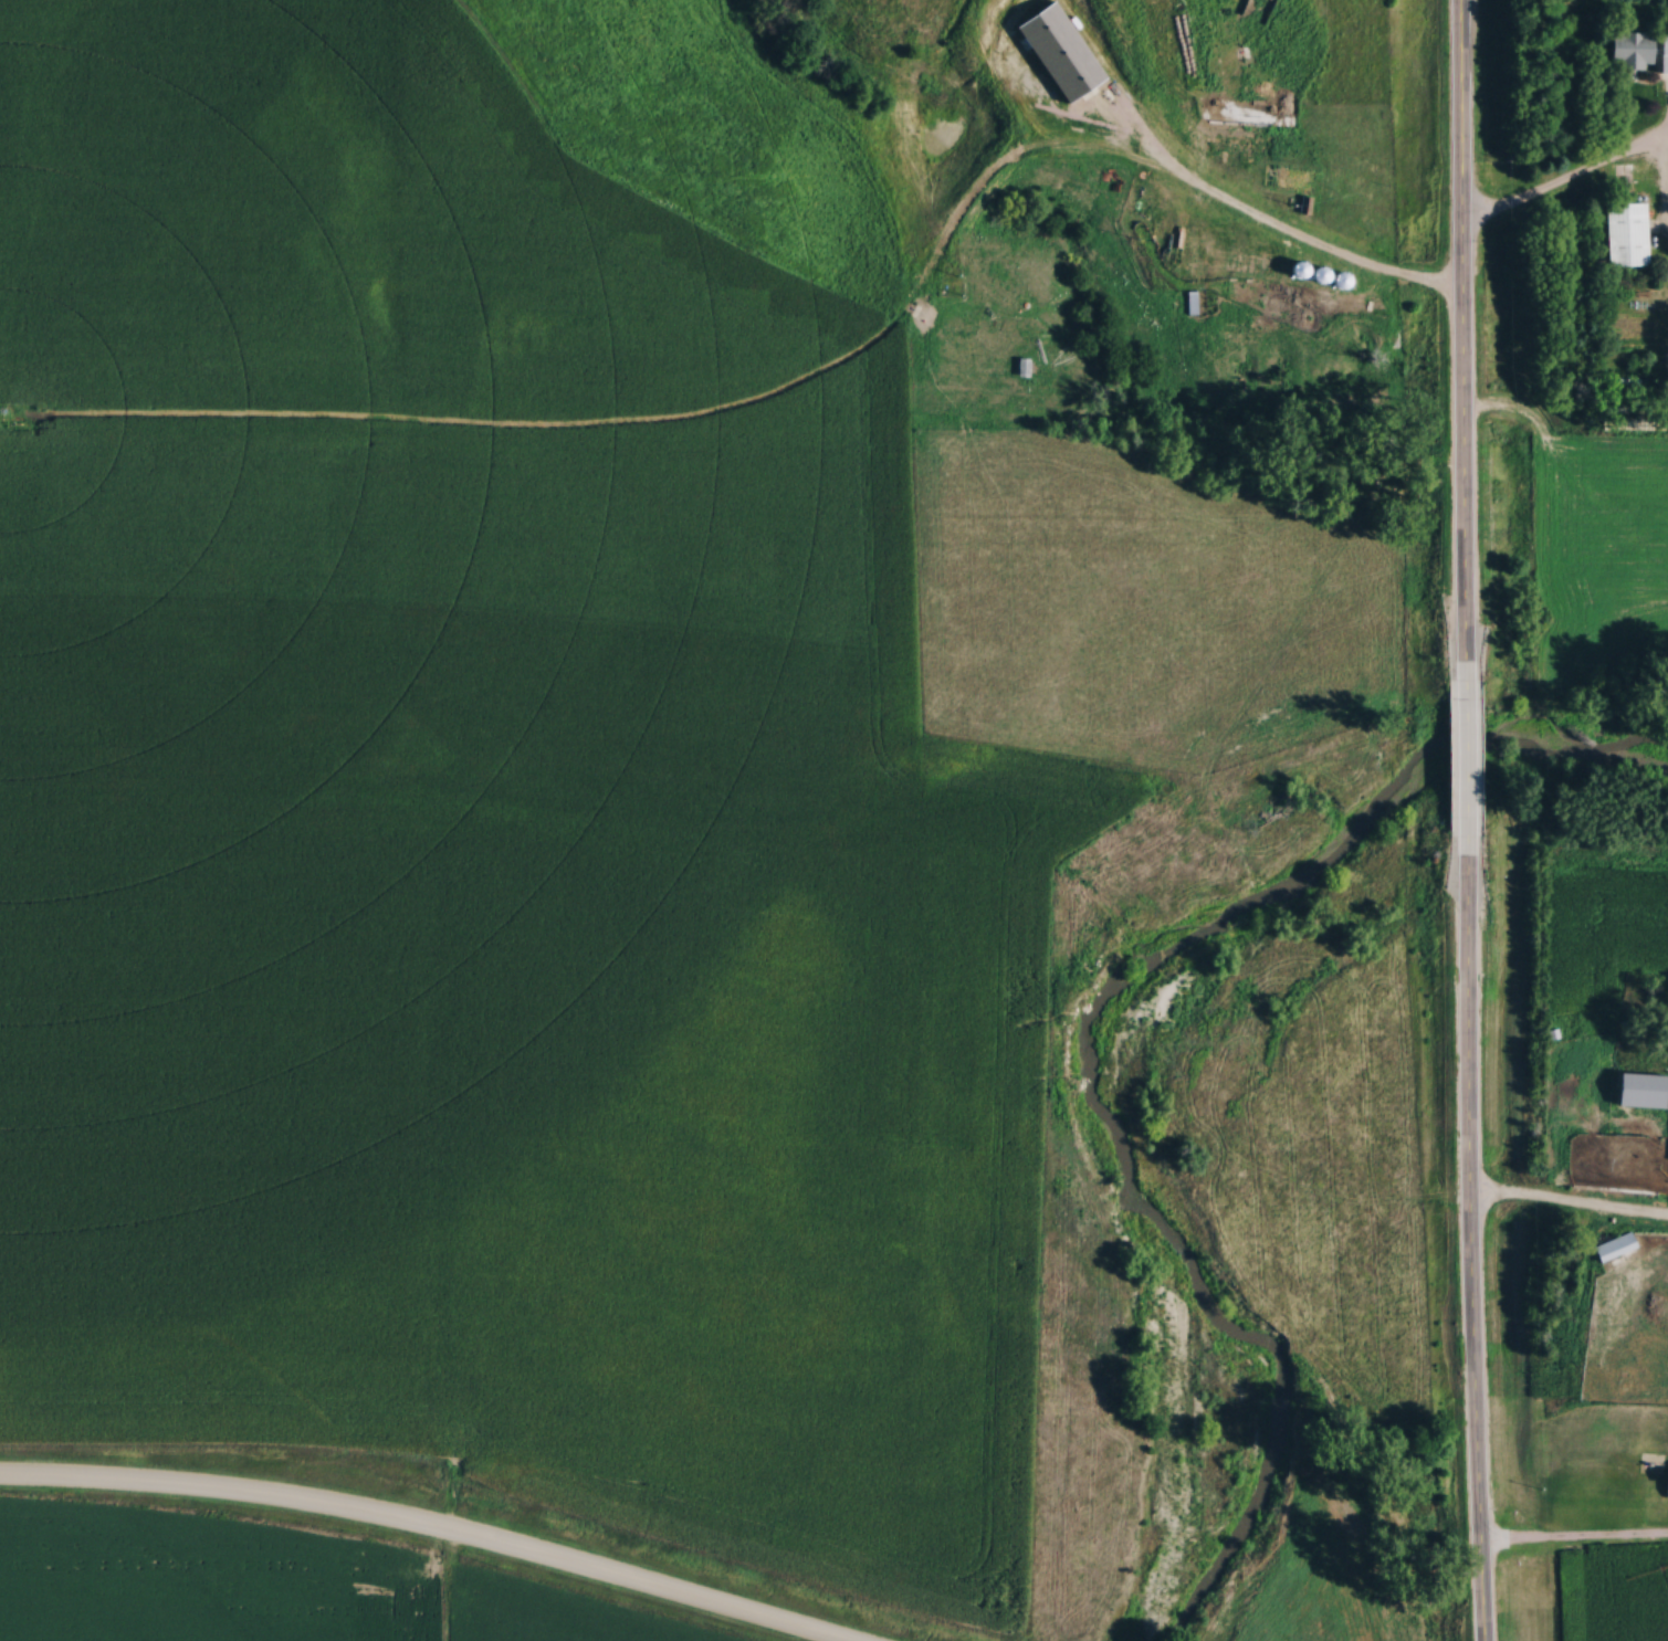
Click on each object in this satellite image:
building: (1630, 49)
building: (1664, 54)
road: (1559, 188)
building: (1624, 234)
building: (1189, 302)
road: (1462, 329)
road: (1465, 744)
road: (1569, 1205)
road: (1470, 1234)
building: (1613, 1246)
road: (420, 1528)

